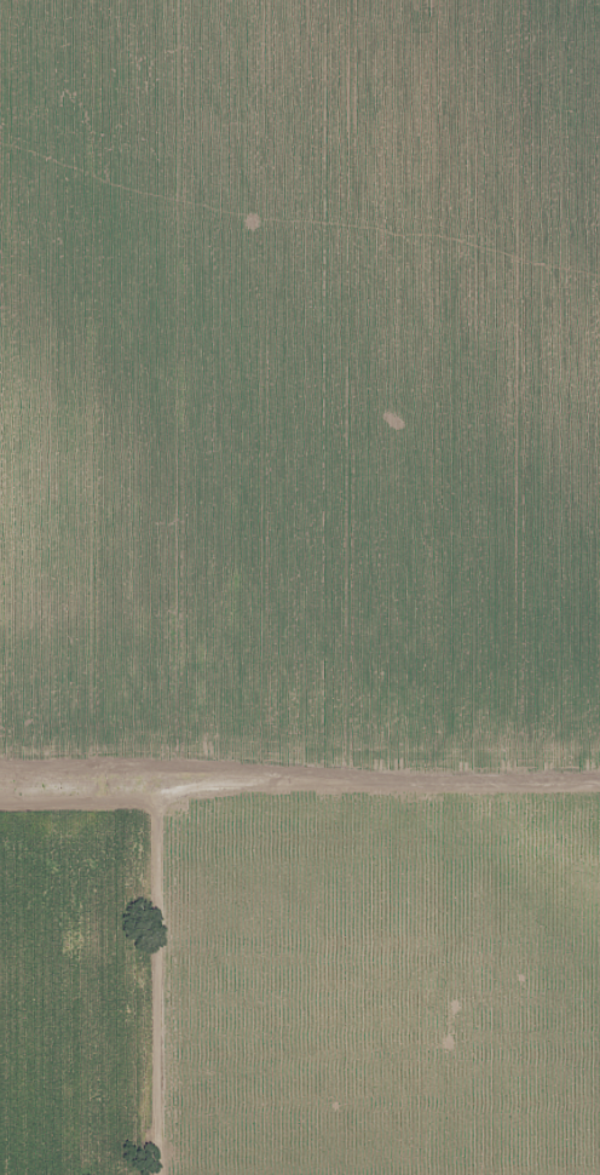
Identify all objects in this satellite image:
road: (207, 792)

